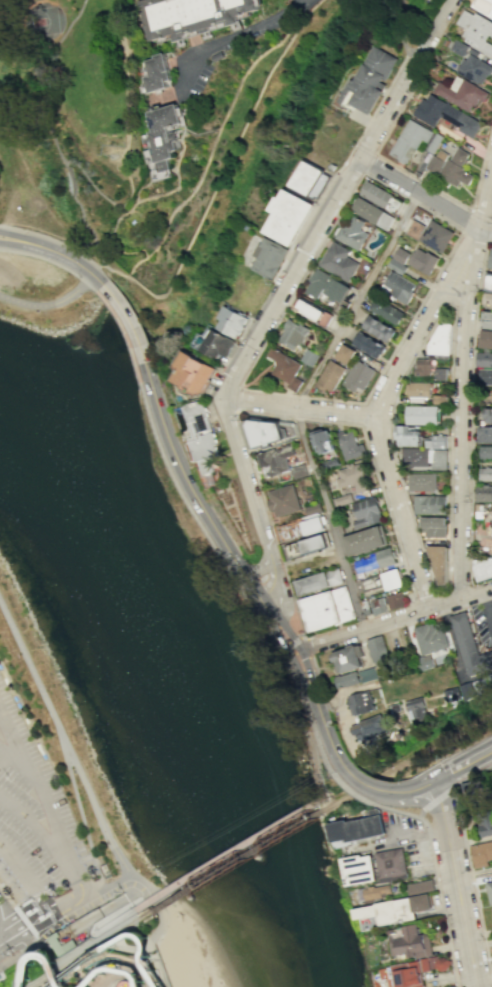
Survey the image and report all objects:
building: (484, 7)
building: (191, 16)
park: (33, 22)
road: (434, 31)
building: (477, 31)
road: (403, 32)
road: (242, 36)
building: (460, 48)
building: (218, 56)
building: (474, 70)
building: (157, 74)
parking lot: (200, 78)
building: (371, 81)
road: (127, 83)
building: (464, 93)
park: (83, 102)
building: (445, 115)
building: (163, 137)
building: (409, 141)
road: (212, 145)
road: (364, 148)
building: (436, 161)
road: (367, 163)
road: (341, 165)
road: (353, 168)
building: (457, 169)
road: (402, 170)
building: (310, 180)
road: (91, 183)
road: (131, 191)
road: (425, 195)
road: (37, 196)
building: (381, 197)
road: (483, 206)
building: (372, 214)
building: (290, 216)
road: (465, 220)
building: (416, 229)
building: (351, 233)
road: (489, 233)
building: (437, 237)
road: (50, 239)
road: (489, 242)
road: (48, 248)
building: (401, 256)
road: (43, 258)
building: (271, 258)
building: (339, 261)
building: (424, 261)
building: (491, 263)
building: (397, 266)
road: (90, 273)
road: (97, 278)
building: (489, 283)
road: (87, 286)
road: (282, 286)
building: (327, 287)
building: (399, 287)
road: (145, 291)
road: (356, 299)
building: (487, 299)
road: (43, 300)
road: (275, 308)
building: (311, 311)
building: (385, 311)
building: (487, 319)
building: (234, 321)
building: (378, 329)
road: (132, 333)
building: (293, 335)
road: (124, 336)
building: (486, 339)
building: (439, 341)
building: (216, 345)
building: (369, 345)
building: (345, 354)
building: (309, 358)
building: (484, 359)
building: (286, 367)
building: (424, 368)
building: (195, 371)
building: (441, 374)
building: (331, 376)
building: (358, 376)
building: (485, 377)
road: (449, 378)
building: (418, 390)
road: (234, 399)
road: (329, 399)
building: (441, 400)
road: (296, 407)
road: (470, 412)
road: (360, 414)
building: (487, 414)
road: (266, 415)
building: (424, 415)
road: (370, 416)
road: (462, 420)
building: (270, 434)
building: (485, 434)
building: (408, 437)
building: (202, 438)
building: (323, 441)
building: (437, 442)
building: (350, 445)
building: (486, 453)
building: (416, 457)
building: (277, 459)
building: (439, 459)
building: (300, 472)
building: (485, 472)
building: (354, 477)
building: (422, 482)
building: (483, 494)
building: (343, 500)
building: (284, 501)
building: (430, 505)
road: (407, 506)
building: (311, 508)
building: (366, 513)
road: (328, 518)
road: (214, 525)
building: (302, 528)
building: (434, 528)
road: (206, 535)
building: (365, 541)
building: (307, 547)
building: (375, 561)
building: (438, 563)
building: (482, 568)
building: (392, 580)
building: (319, 582)
building: (370, 584)
road: (458, 586)
road: (271, 588)
road: (277, 594)
road: (424, 594)
building: (396, 600)
road: (489, 600)
building: (363, 605)
building: (379, 606)
building: (328, 610)
road: (393, 620)
parking lot: (482, 621)
road: (392, 637)
building: (429, 638)
road: (295, 640)
road: (285, 646)
building: (470, 646)
road: (308, 647)
road: (364, 647)
building: (377, 650)
park: (156, 651)
river: (188, 651)
building: (348, 657)
road: (298, 660)
building: (425, 662)
road: (296, 669)
road: (32, 672)
building: (367, 674)
building: (345, 679)
building: (483, 682)
road: (319, 683)
building: (467, 690)
building: (451, 694)
building: (359, 702)
building: (416, 708)
road: (320, 713)
road: (309, 715)
building: (369, 727)
road: (305, 737)
road: (4, 748)
railway: (412, 753)
road: (4, 756)
road: (463, 762)
road: (472, 773)
road: (367, 783)
road: (420, 785)
road: (346, 787)
building: (473, 789)
road: (31, 791)
road: (434, 800)
railway: (326, 805)
road: (396, 811)
road: (97, 817)
building: (484, 822)
parking lot: (34, 823)
road: (34, 826)
building: (359, 828)
road: (85, 833)
road: (224, 855)
building: (482, 855)
railway: (230, 864)
building: (393, 865)
building: (361, 869)
building: (103, 870)
road: (26, 878)
road: (456, 882)
road: (473, 884)
building: (422, 887)
road: (78, 889)
building: (489, 891)
road: (105, 892)
building: (377, 892)
road: (440, 900)
building: (491, 907)
building: (398, 910)
road: (17, 918)
road: (37, 921)
road: (102, 921)
road: (157, 927)
road: (45, 932)
road: (9, 935)
road: (12, 936)
building: (413, 943)
road: (9, 949)
railway: (87, 953)
road: (17, 954)
road: (143, 957)
road: (76, 962)
theme park: (119, 966)
road: (128, 966)
building: (410, 975)
building: (453, 986)

